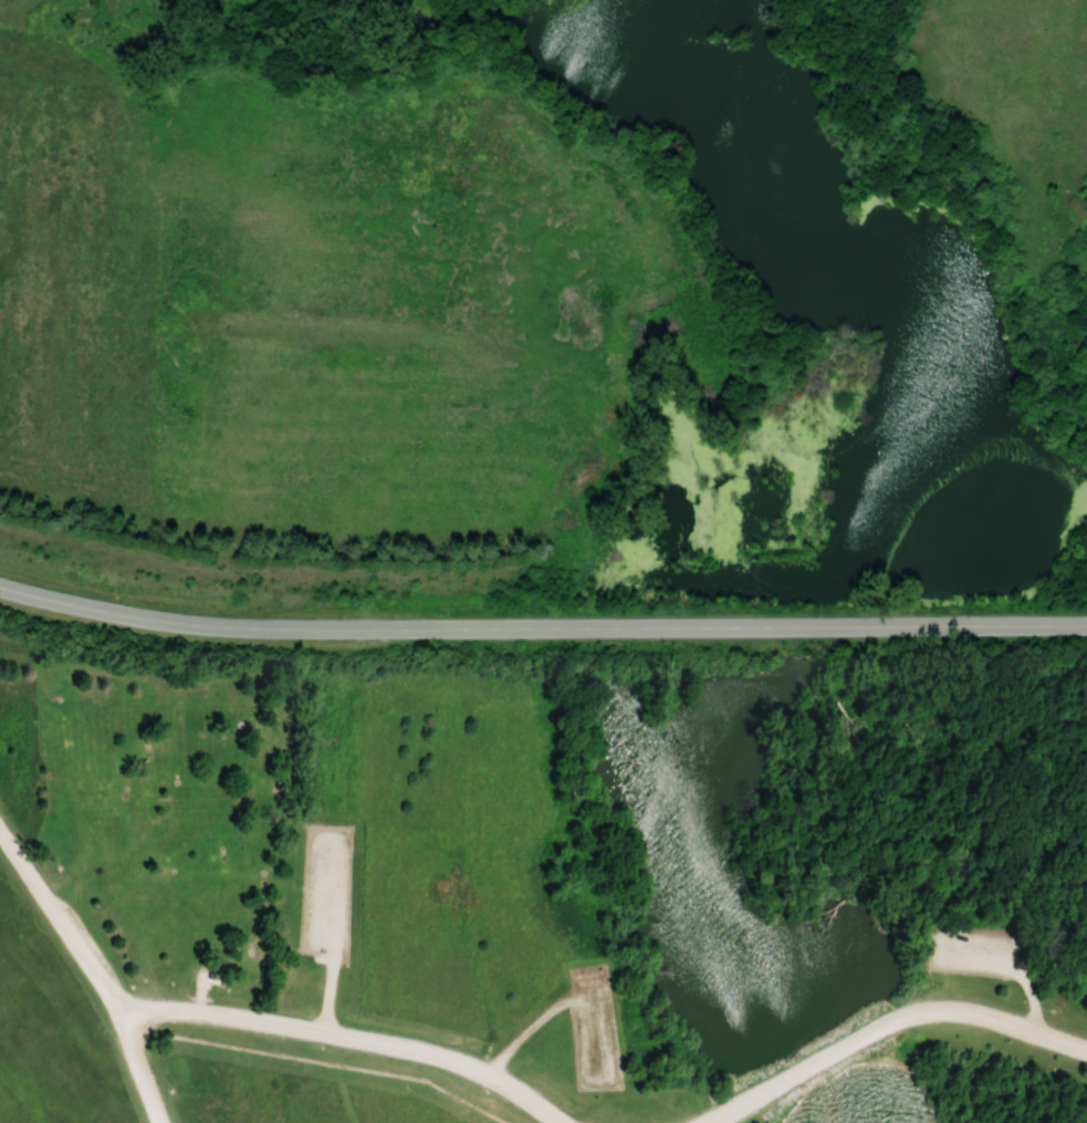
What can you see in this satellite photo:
road: (132, 616)
road: (676, 626)
park: (543, 874)
road: (92, 973)
road: (886, 1026)
road: (345, 1037)

